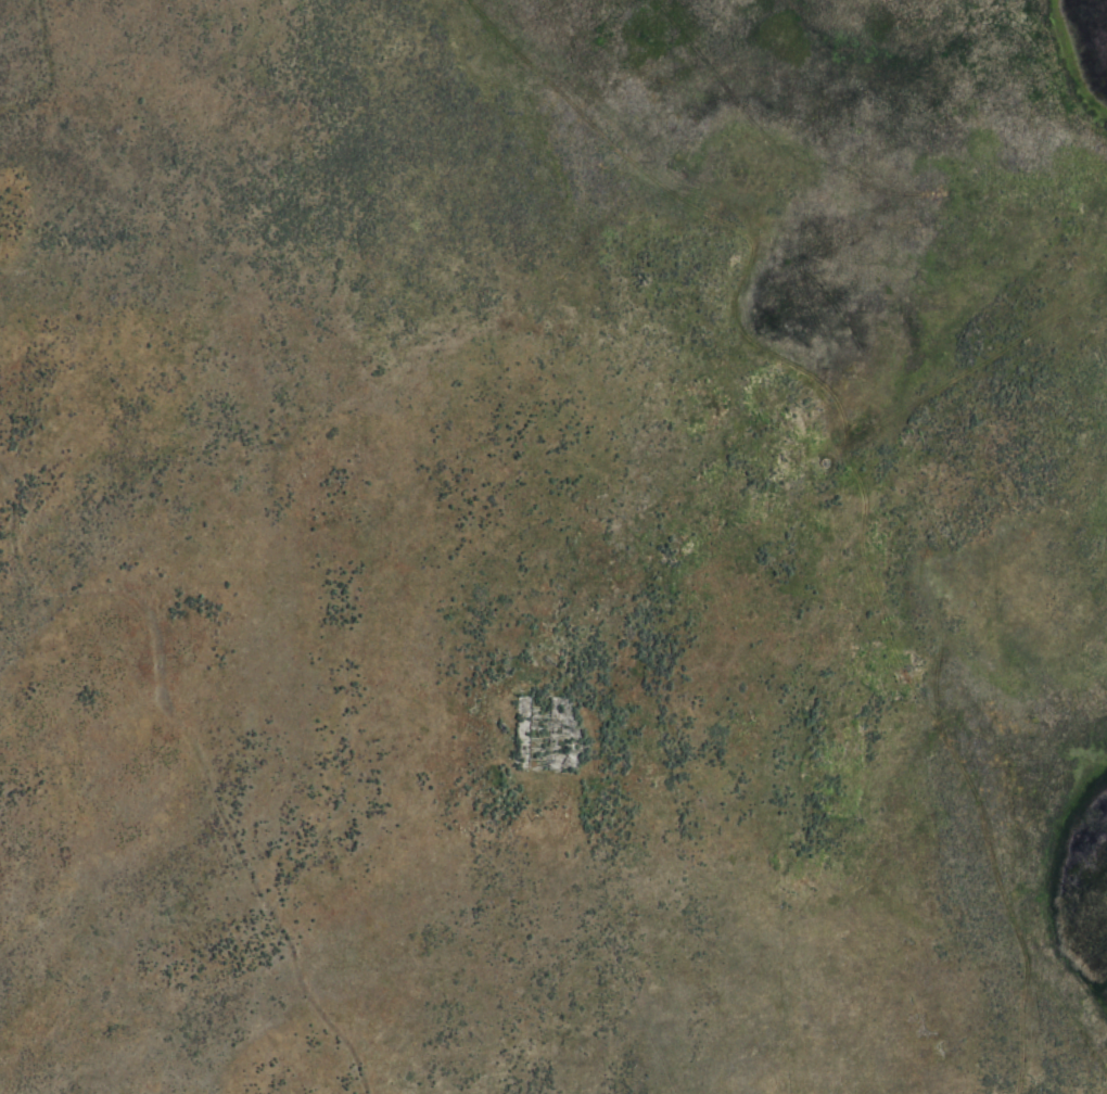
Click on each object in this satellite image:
crop: (553, 547)
building: (543, 732)

